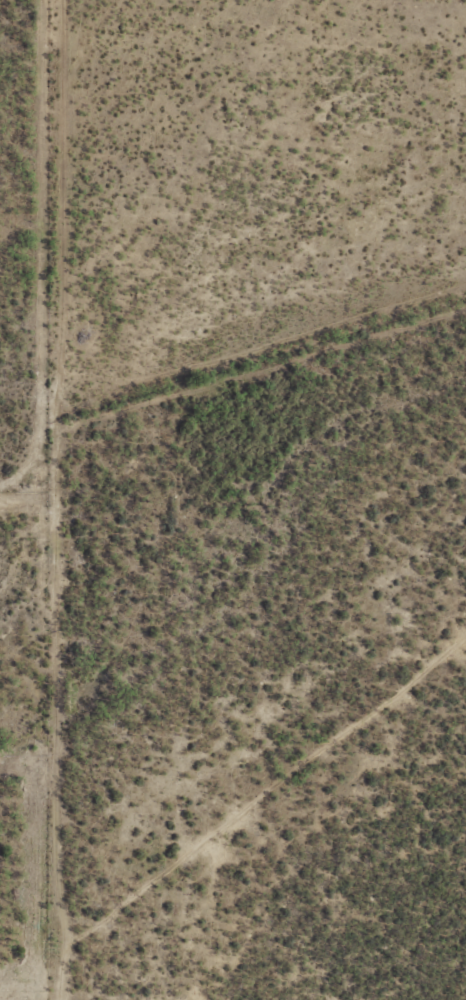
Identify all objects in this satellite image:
road: (62, 322)

